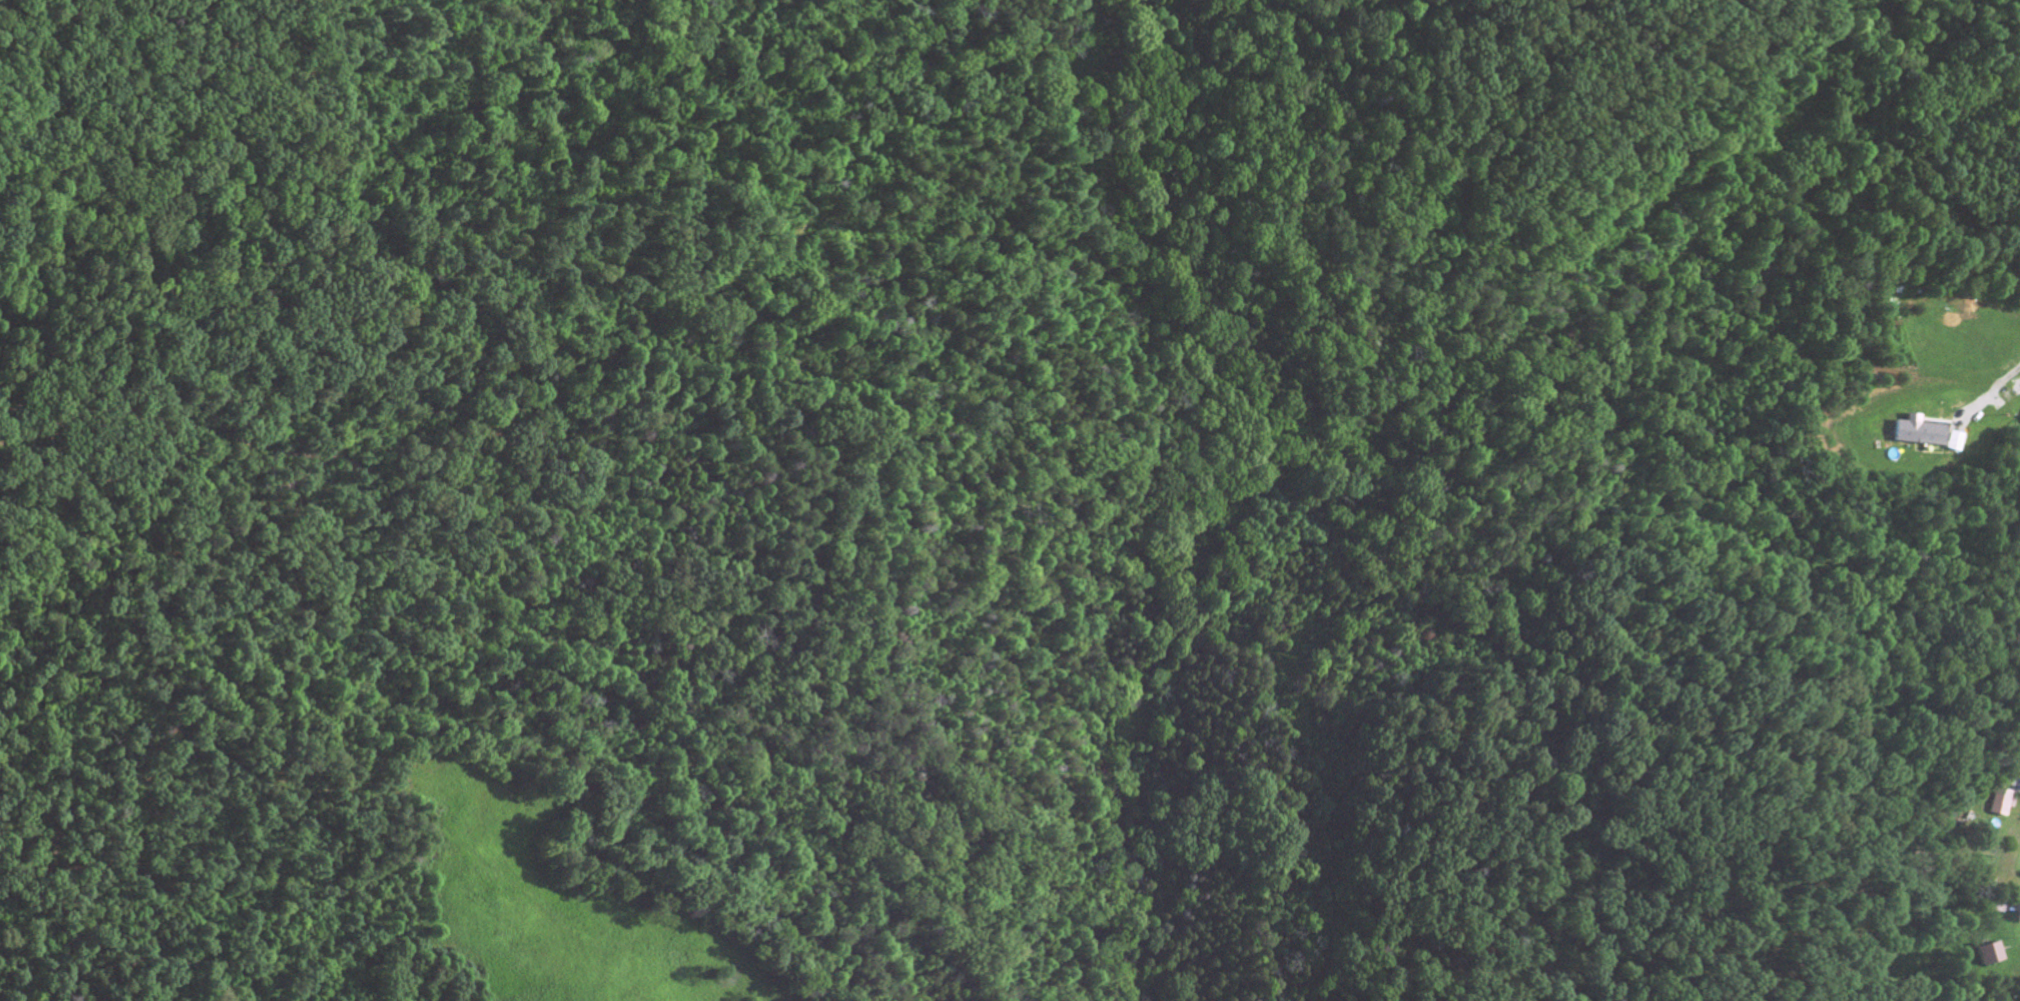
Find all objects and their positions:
road: (1988, 391)
building: (1919, 436)
building: (1954, 444)
building: (2000, 804)
building: (1990, 956)

